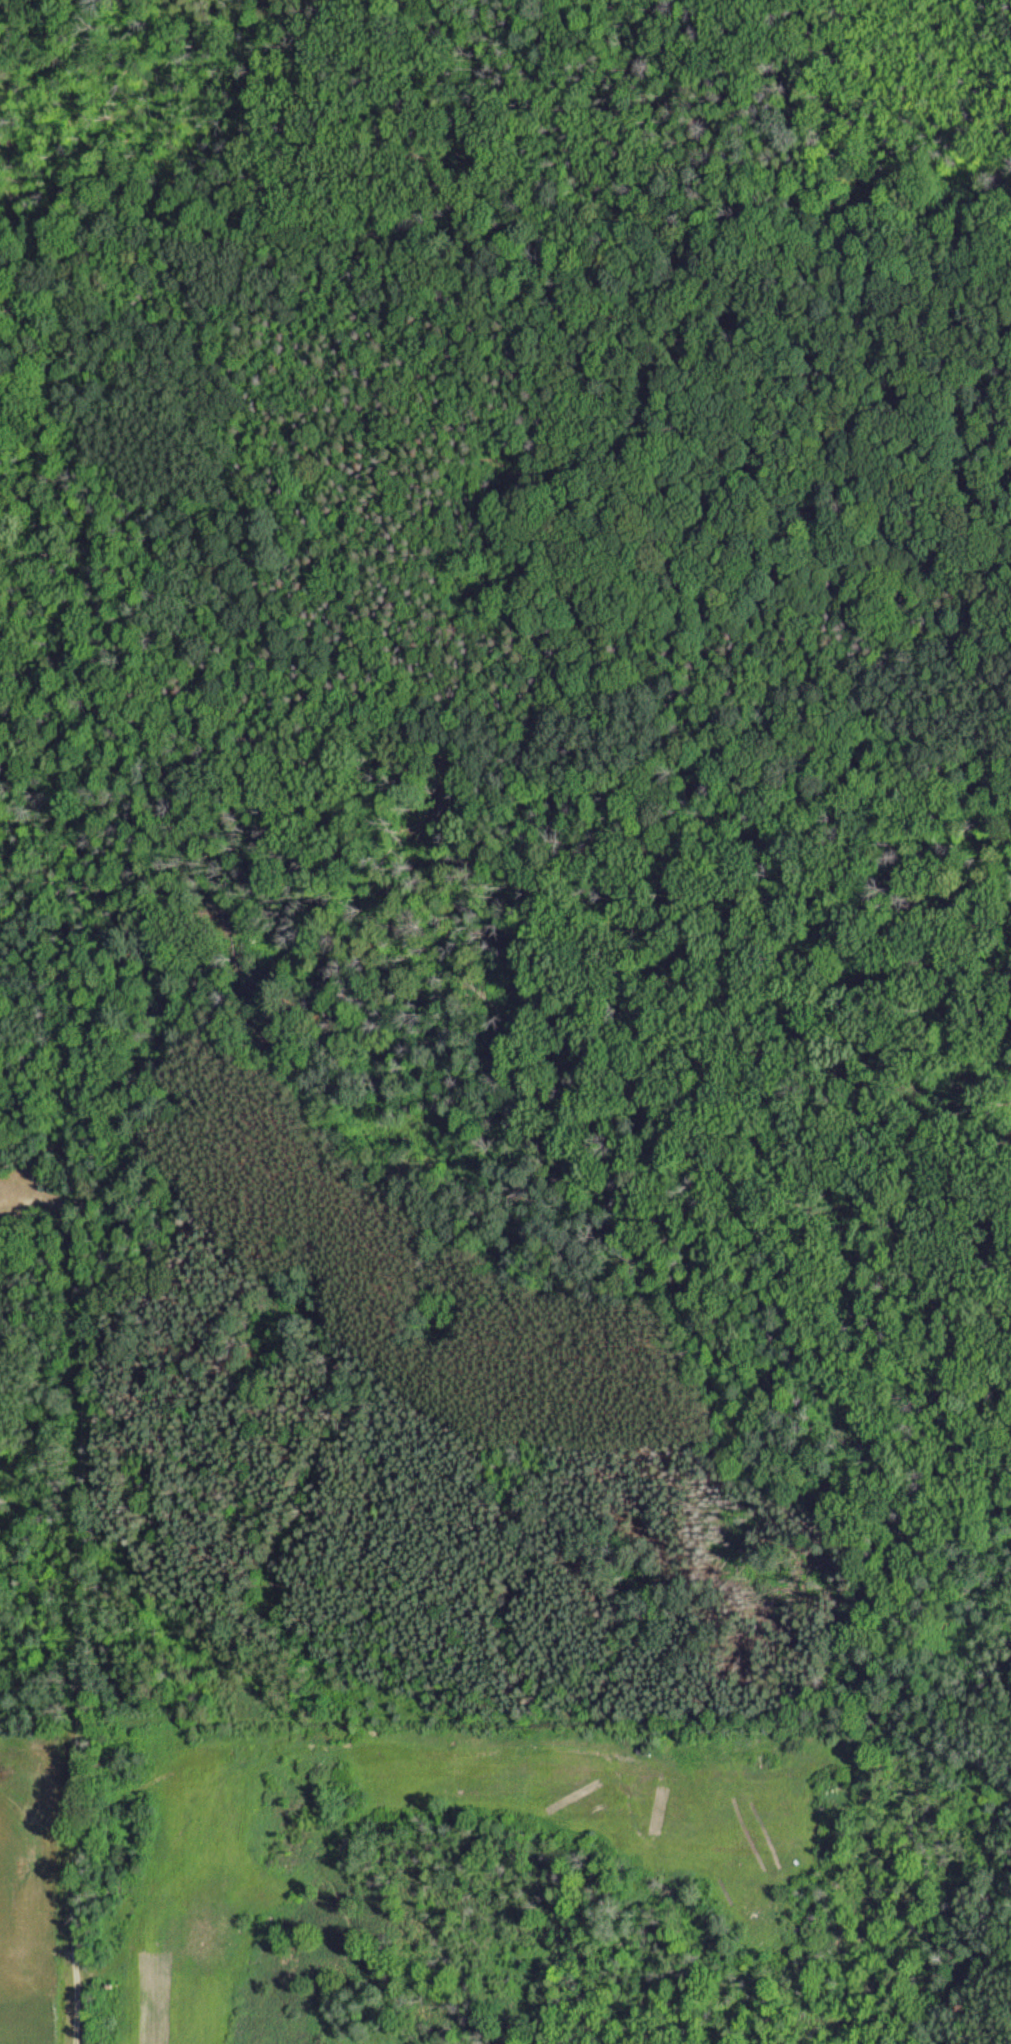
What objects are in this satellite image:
road: (73, 1022)

